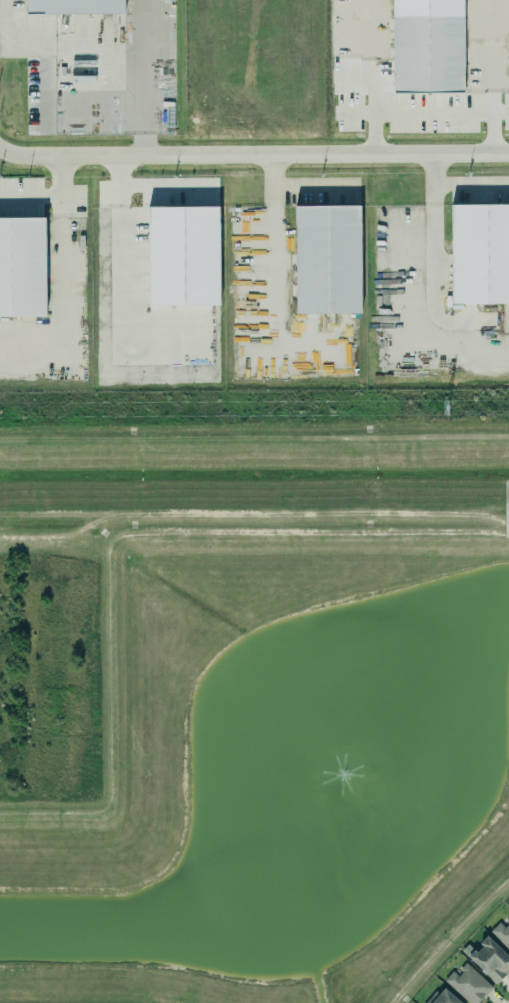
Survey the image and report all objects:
building: (76, 3)
road: (1, 9)
road: (23, 36)
building: (427, 42)
road: (127, 61)
road: (369, 76)
road: (491, 76)
road: (140, 109)
road: (423, 112)
road: (253, 154)
road: (51, 197)
road: (435, 231)
building: (480, 246)
building: (183, 249)
building: (327, 252)
building: (22, 261)
power tower: (441, 411)
fountain: (359, 749)
building: (501, 933)
building: (488, 959)
building: (466, 984)
building: (439, 997)

